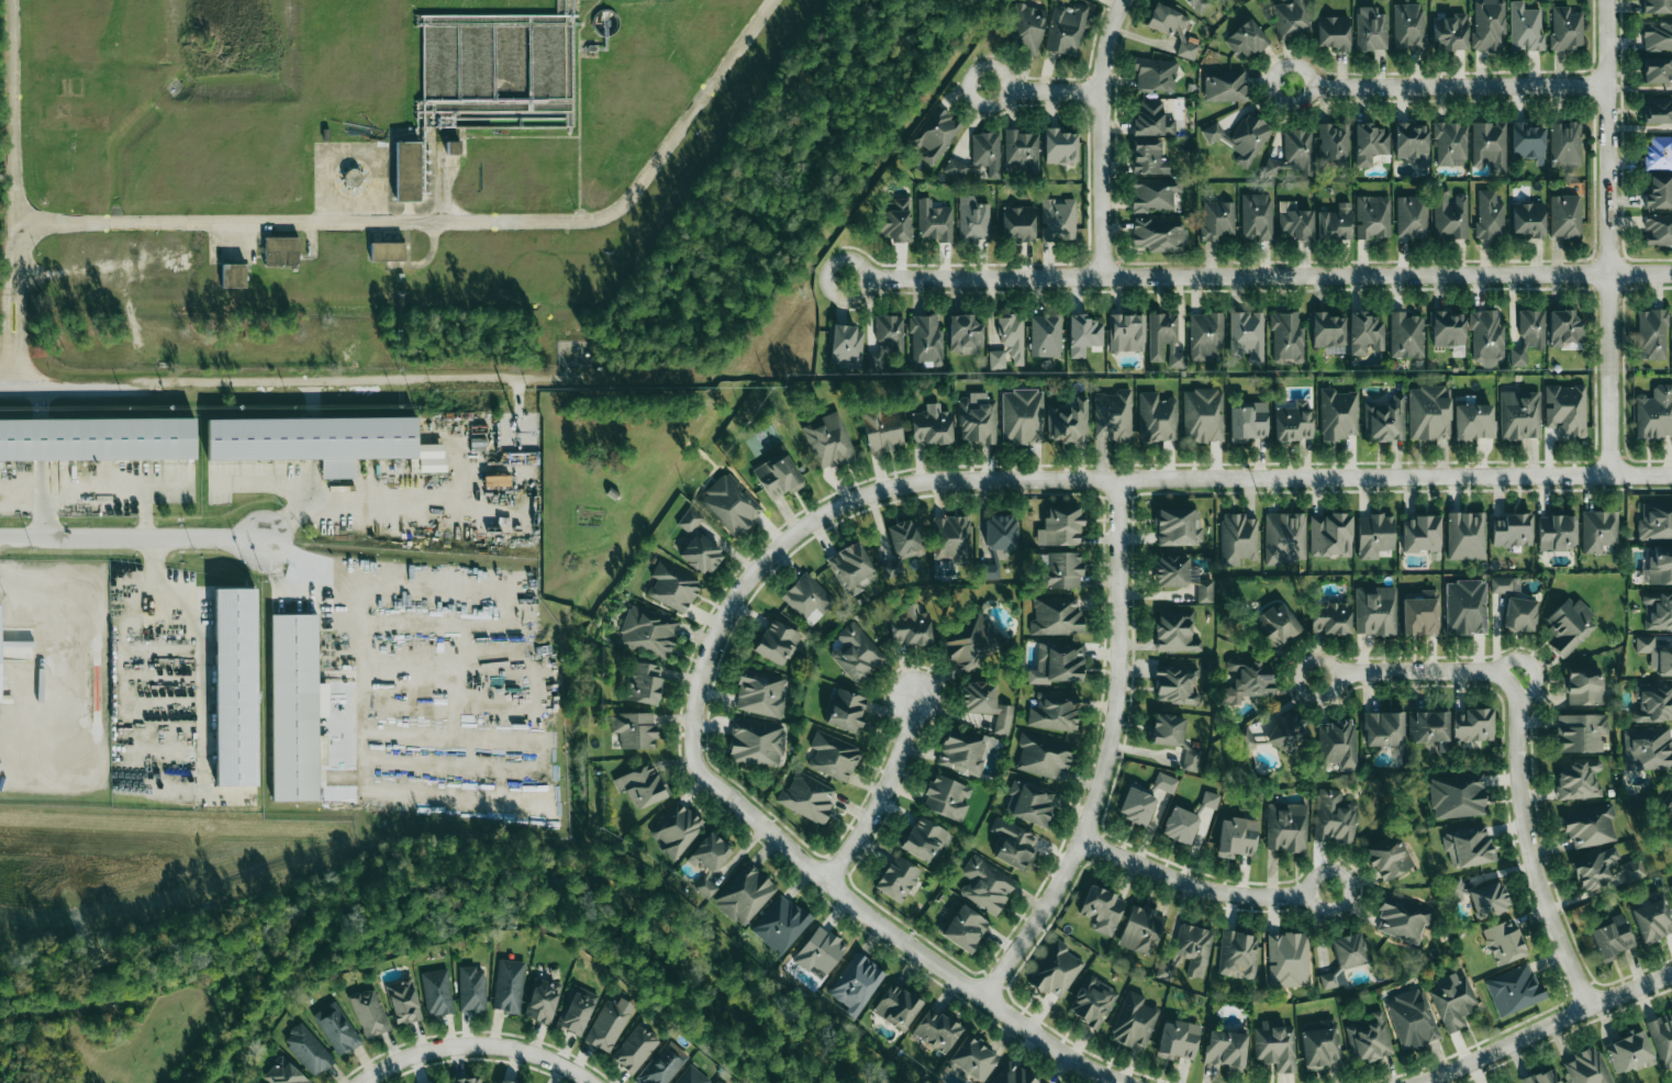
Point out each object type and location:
building: (1197, 4)
building: (1657, 5)
building: (1292, 19)
building: (1487, 24)
building: (1408, 26)
building: (1025, 27)
building: (1173, 27)
building: (1525, 27)
building: (1565, 27)
building: (1370, 29)
building: (1066, 30)
building: (1334, 32)
building: (1450, 32)
building: (1658, 36)
building: (1246, 40)
building: (1657, 69)
building: (1156, 75)
road: (1450, 85)
building: (1226, 86)
road: (1045, 91)
building: (1658, 110)
road: (579, 114)
building: (1151, 120)
building: (934, 134)
road: (1103, 136)
road: (1608, 136)
building: (1241, 137)
building: (1411, 141)
building: (1528, 142)
building: (1334, 143)
building: (1370, 143)
building: (1450, 144)
building: (1490, 145)
building: (1059, 146)
building: (1021, 150)
building: (1658, 152)
building: (1293, 154)
building: (979, 156)
building: (1148, 157)
wastewater plant: (352, 170)
building: (408, 171)
building: (1659, 192)
building: (1153, 193)
road: (22, 205)
building: (1490, 214)
building: (1449, 215)
building: (1564, 215)
building: (1256, 216)
building: (1372, 216)
building: (1411, 216)
building: (972, 219)
building: (1528, 219)
building: (1058, 220)
building: (1217, 220)
building: (895, 221)
building: (933, 221)
building: (1294, 222)
building: (1335, 222)
building: (1018, 223)
building: (1658, 230)
road: (458, 231)
building: (1159, 234)
building: (281, 250)
building: (387, 252)
road: (425, 263)
building: (233, 276)
road: (1260, 276)
building: (1564, 327)
building: (1448, 328)
building: (1327, 330)
building: (1126, 332)
building: (963, 334)
building: (1083, 334)
building: (1205, 334)
building: (1364, 334)
building: (1652, 334)
building: (1046, 335)
building: (1247, 335)
building: (1406, 335)
building: (1528, 336)
building: (1286, 337)
building: (1486, 337)
building: (887, 338)
building: (1164, 338)
building: (926, 340)
building: (1008, 343)
building: (847, 344)
road: (1610, 373)
road: (299, 383)
building: (1565, 410)
building: (1429, 412)
building: (1654, 413)
building: (1338, 414)
building: (1519, 414)
building: (1113, 415)
building: (1203, 415)
building: (1022, 416)
building: (1157, 417)
building: (977, 418)
building: (1385, 420)
building: (1068, 421)
building: (1293, 421)
building: (1247, 422)
building: (1473, 422)
building: (932, 425)
building: (882, 429)
building: (97, 438)
building: (828, 440)
building: (321, 442)
road: (698, 448)
road: (712, 460)
building: (778, 477)
road: (709, 478)
road: (1088, 480)
road: (94, 491)
building: (731, 504)
building: (689, 520)
building: (1656, 522)
building: (1060, 526)
building: (1178, 526)
road: (771, 527)
building: (1512, 529)
building: (1598, 531)
building: (1001, 532)
building: (1557, 533)
building: (1420, 534)
building: (1329, 535)
building: (1374, 535)
building: (1465, 535)
building: (905, 538)
building: (1237, 538)
building: (1285, 538)
building: (950, 539)
road: (130, 540)
building: (701, 554)
building: (1658, 567)
building: (851, 568)
building: (1059, 569)
building: (988, 571)
building: (1171, 571)
building: (672, 587)
building: (1204, 591)
building: (807, 599)
building: (1465, 607)
building: (1374, 611)
building: (1658, 611)
building: (1420, 614)
building: (1519, 614)
building: (1056, 615)
building: (1329, 617)
building: (1275, 625)
building: (1569, 625)
building: (910, 626)
building: (0, 627)
building: (647, 632)
road: (363, 633)
building: (1175, 633)
road: (198, 636)
building: (776, 641)
building: (968, 643)
building: (1645, 644)
building: (856, 652)
building: (1664, 660)
building: (1057, 665)
road: (1413, 674)
building: (1247, 679)
building: (643, 683)
building: (1175, 684)
building: (235, 686)
building: (1584, 688)
building: (760, 694)
building: (985, 704)
building: (1654, 704)
building: (296, 707)
building: (846, 710)
building: (1054, 711)
building: (1472, 725)
building: (1427, 726)
building: (1382, 728)
building: (634, 729)
building: (1167, 729)
building: (1286, 732)
building: (1580, 732)
building: (1245, 738)
building: (756, 743)
building: (1337, 744)
building: (1648, 748)
building: (963, 752)
road: (1106, 752)
building: (1043, 755)
building: (833, 756)
building: (1191, 759)
building: (1578, 779)
building: (1164, 782)
building: (642, 785)
road: (882, 792)
building: (806, 796)
building: (1457, 796)
building: (946, 797)
building: (1210, 800)
building: (1669, 800)
building: (1029, 802)
building: (1136, 806)
building: (1334, 817)
building: (1180, 825)
building: (1286, 827)
building: (1591, 827)
building: (677, 830)
building: (1236, 837)
building: (923, 839)
building: (1013, 845)
building: (1468, 847)
road: (1526, 847)
building: (710, 852)
building: (1387, 857)
building: (1603, 870)
building: (898, 879)
road: (1189, 883)
building: (985, 884)
building: (1671, 884)
road: (1350, 885)
building: (705, 886)
building: (1456, 890)
building: (744, 893)
building: (1487, 900)
building: (1102, 909)
building: (1652, 916)
building: (1402, 919)
building: (780, 924)
building: (965, 928)
building: (1141, 930)
building: (1612, 937)
road: (912, 940)
building: (1503, 941)
building: (1193, 948)
building: (820, 951)
building: (1237, 954)
building: (1288, 959)
building: (1344, 959)
building: (1055, 970)
building: (856, 984)
building: (509, 985)
building: (1513, 989)
building: (471, 990)
building: (436, 992)
building: (1092, 1000)
building: (403, 1001)
building: (543, 1001)
building: (1452, 1001)
building: (896, 1006)
building: (577, 1011)
building: (369, 1012)
building: (1412, 1019)
building: (1134, 1020)
building: (609, 1024)
road: (1542, 1024)
building: (337, 1028)
building: (936, 1030)
building: (1369, 1038)
building: (1662, 1038)
building: (1178, 1040)
road: (476, 1043)
building: (1320, 1045)
building: (1275, 1046)
building: (635, 1048)
building: (308, 1049)
building: (1226, 1049)
building: (1627, 1051)
building: (972, 1059)
building: (662, 1064)
building: (1586, 1067)
building: (283, 1073)
building: (1013, 1074)
building: (691, 1076)
building: (1543, 1076)
building: (468, 1080)
building: (252, 1081)
building: (504, 1081)
building: (443, 1082)
building: (716, 1082)

